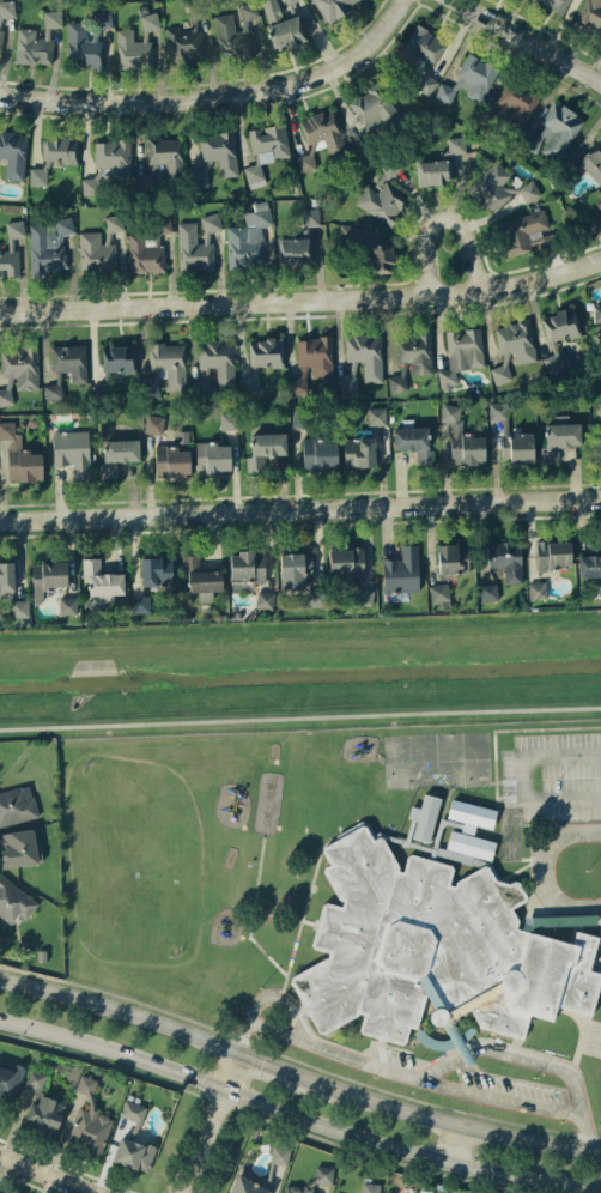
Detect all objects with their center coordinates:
building: (292, 2)
building: (554, 4)
building: (7, 7)
building: (333, 7)
building: (590, 14)
building: (150, 20)
building: (283, 26)
building: (235, 31)
building: (186, 36)
road: (534, 36)
building: (0, 41)
building: (37, 41)
building: (81, 46)
building: (132, 49)
building: (421, 55)
building: (469, 79)
road: (219, 93)
building: (517, 104)
building: (374, 107)
building: (554, 131)
building: (320, 138)
building: (269, 143)
building: (456, 144)
building: (60, 149)
building: (220, 151)
building: (13, 153)
building: (111, 157)
building: (162, 159)
building: (594, 164)
building: (432, 171)
building: (254, 175)
building: (38, 176)
building: (198, 177)
building: (89, 186)
building: (600, 192)
building: (309, 219)
building: (114, 223)
building: (597, 224)
building: (523, 231)
building: (347, 234)
building: (249, 237)
building: (49, 244)
building: (196, 244)
building: (148, 246)
building: (11, 249)
building: (295, 249)
building: (96, 252)
road: (469, 252)
building: (380, 255)
road: (302, 301)
building: (596, 313)
building: (560, 323)
building: (516, 340)
building: (414, 351)
building: (266, 352)
building: (461, 353)
building: (315, 355)
building: (365, 355)
building: (117, 357)
building: (218, 358)
building: (553, 359)
building: (69, 361)
building: (20, 367)
building: (166, 367)
building: (500, 373)
building: (347, 380)
building: (250, 381)
building: (397, 382)
building: (298, 384)
building: (54, 388)
building: (6, 396)
building: (600, 407)
building: (497, 410)
building: (376, 416)
building: (299, 418)
building: (229, 420)
building: (153, 423)
building: (461, 437)
building: (559, 438)
building: (414, 442)
building: (265, 448)
building: (72, 450)
building: (359, 452)
building: (320, 454)
building: (20, 455)
building: (117, 455)
building: (213, 456)
building: (171, 461)
road: (299, 504)
building: (553, 555)
building: (453, 558)
building: (506, 558)
building: (346, 562)
building: (589, 564)
building: (247, 569)
building: (295, 569)
building: (157, 570)
building: (401, 570)
building: (201, 575)
building: (48, 576)
building: (101, 577)
building: (6, 580)
building: (538, 589)
building: (439, 592)
building: (488, 592)
building: (363, 593)
building: (316, 598)
building: (265, 599)
building: (140, 604)
building: (67, 605)
building: (19, 607)
river: (300, 676)
road: (300, 716)
road: (520, 779)
building: (17, 805)
building: (471, 814)
building: (423, 818)
building: (471, 844)
building: (18, 847)
road: (540, 872)
building: (13, 901)
building: (433, 951)
road: (266, 997)
road: (441, 1066)
road: (297, 1073)
building: (35, 1078)
building: (8, 1080)
road: (498, 1098)
building: (44, 1115)
road: (293, 1118)
building: (90, 1120)
road: (207, 1121)
building: (134, 1140)
road: (456, 1145)
building: (280, 1155)
road: (47, 1173)
building: (323, 1174)
building: (250, 1185)
building: (370, 1187)
building: (293, 1189)

